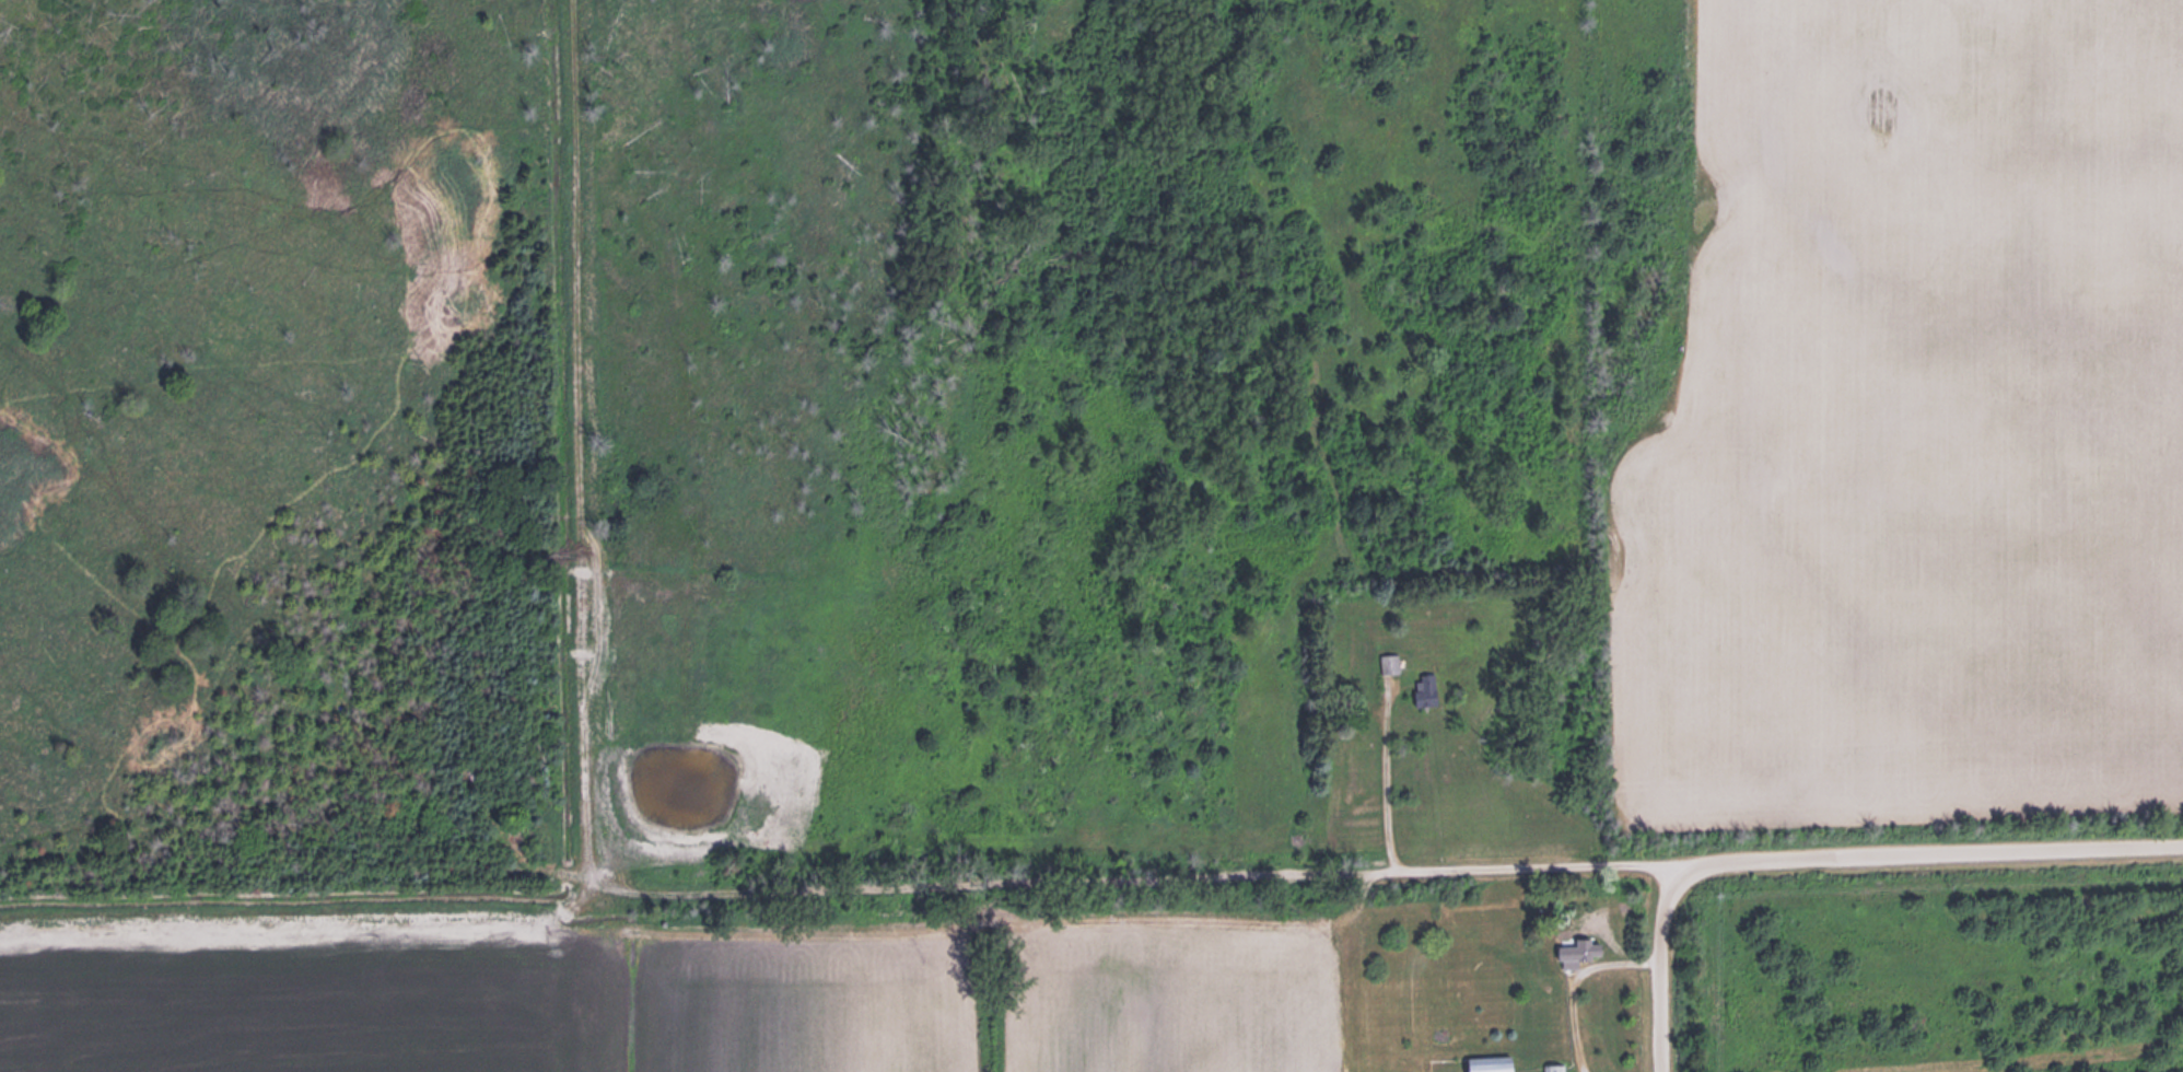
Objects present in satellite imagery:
building: (1388, 662)
building: (1425, 687)
road: (1788, 858)
building: (1575, 949)
road: (1662, 967)
road: (1568, 975)
building: (1489, 1062)
building: (1552, 1067)

